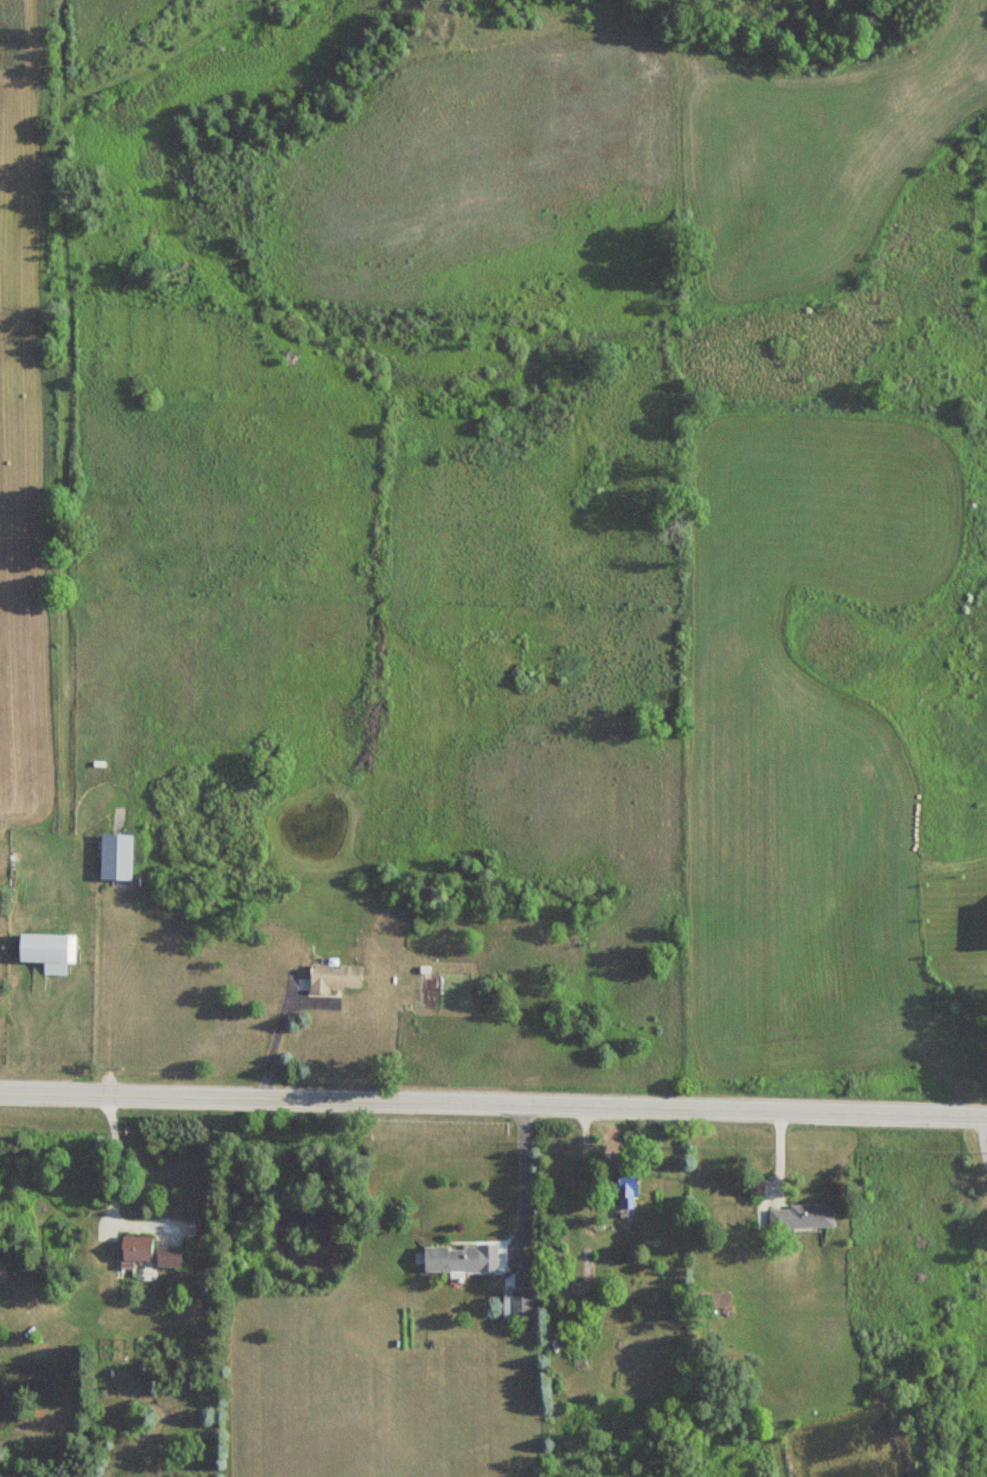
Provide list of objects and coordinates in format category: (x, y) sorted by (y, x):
building: (114, 856)
building: (46, 951)
building: (333, 978)
road: (493, 1101)
building: (625, 1193)
building: (800, 1217)
building: (134, 1249)
building: (166, 1253)
building: (450, 1259)
building: (2, 1272)
building: (718, 1300)
building: (520, 1304)

